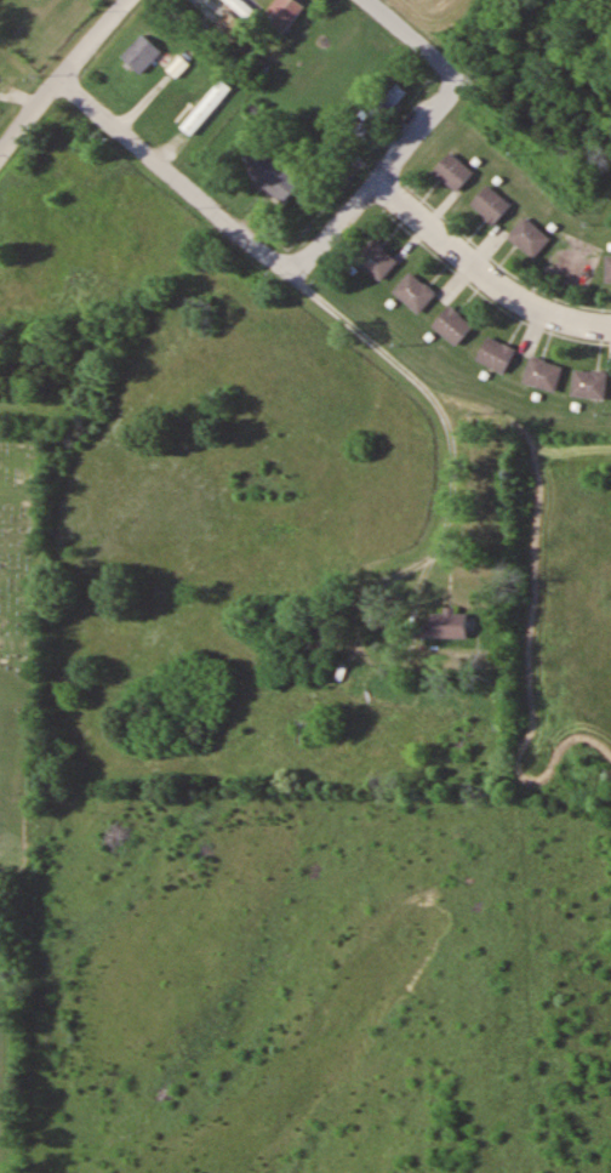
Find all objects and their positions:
building: (242, 7)
building: (281, 15)
building: (219, 25)
road: (419, 36)
building: (142, 53)
road: (62, 75)
building: (207, 107)
building: (379, 109)
building: (453, 171)
road: (378, 172)
building: (269, 173)
building: (491, 204)
building: (529, 237)
building: (376, 258)
road: (482, 269)
building: (607, 269)
road: (310, 287)
building: (415, 291)
building: (452, 324)
building: (495, 353)
building: (543, 374)
building: (589, 383)
building: (446, 625)
park: (15, 753)

